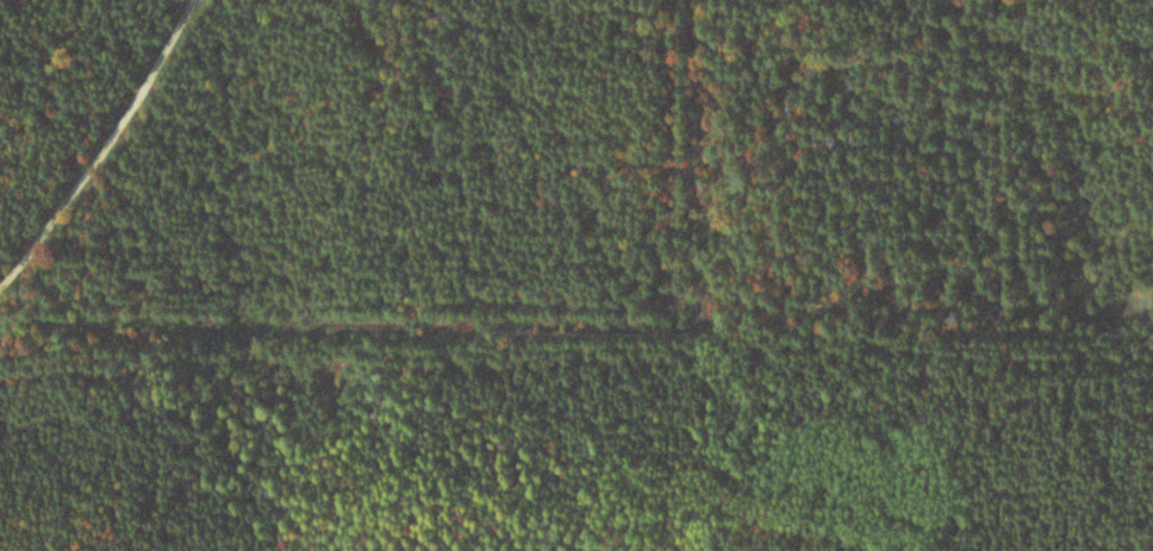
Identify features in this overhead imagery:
road: (102, 149)
road: (537, 323)

